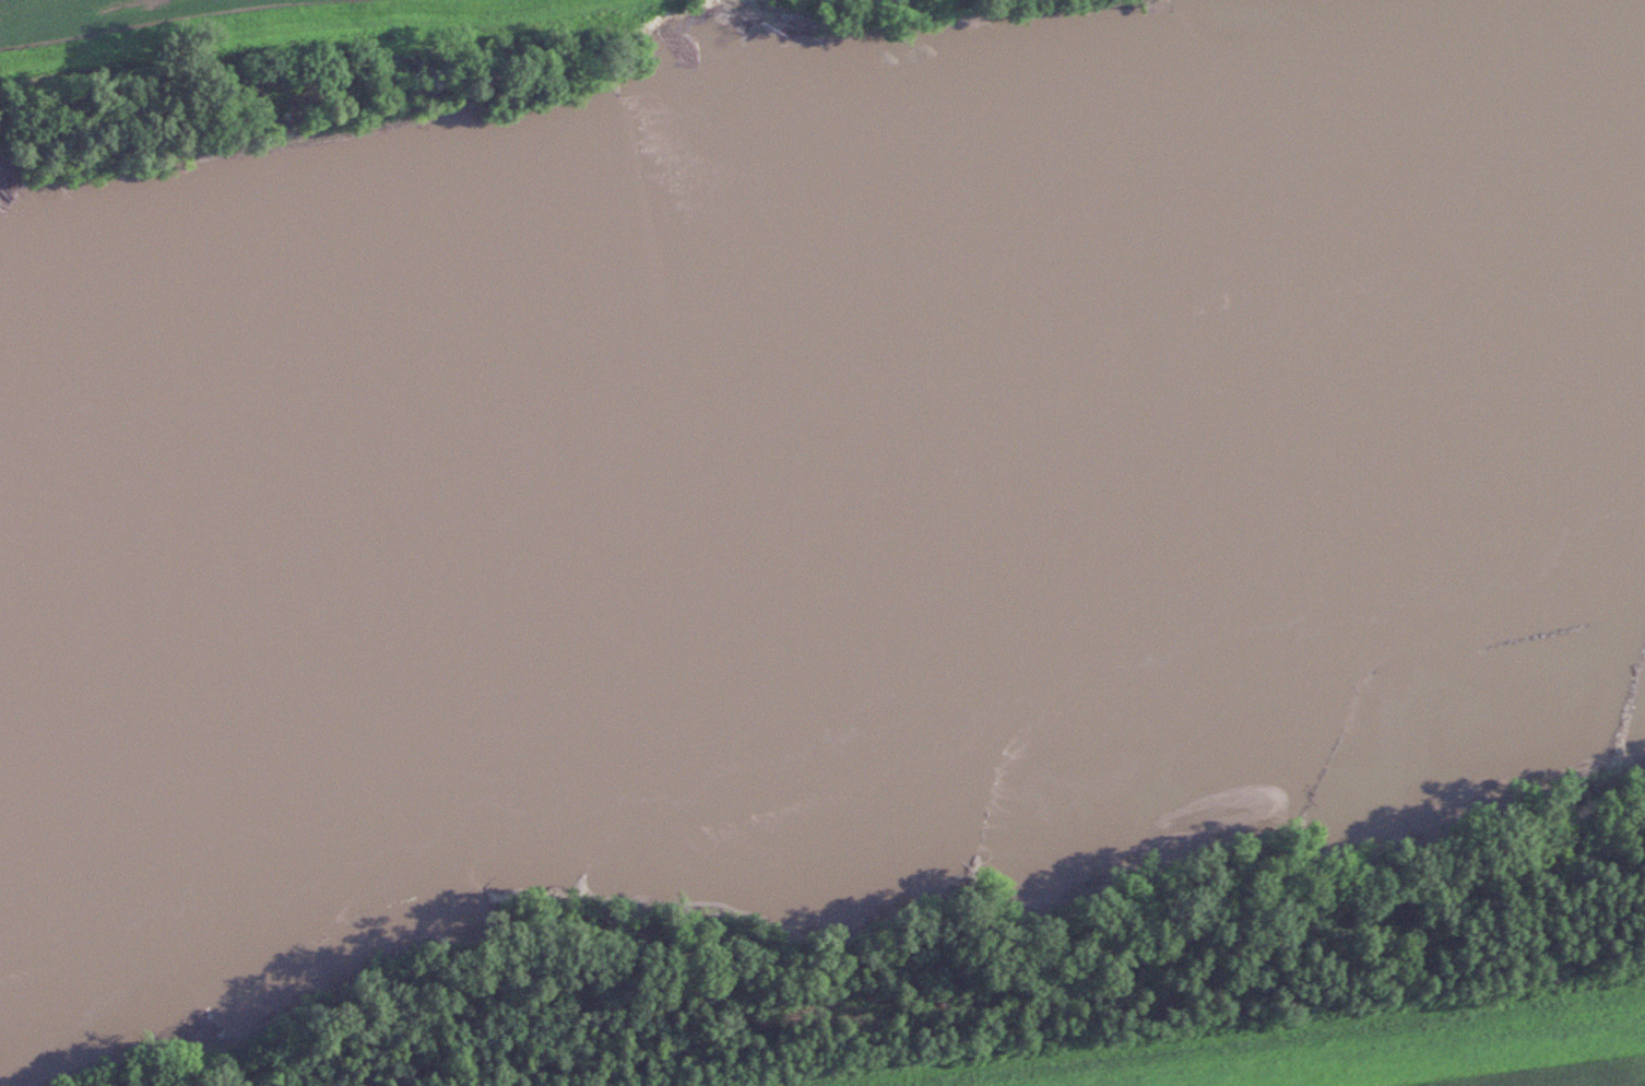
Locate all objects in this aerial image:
river: (822, 546)

